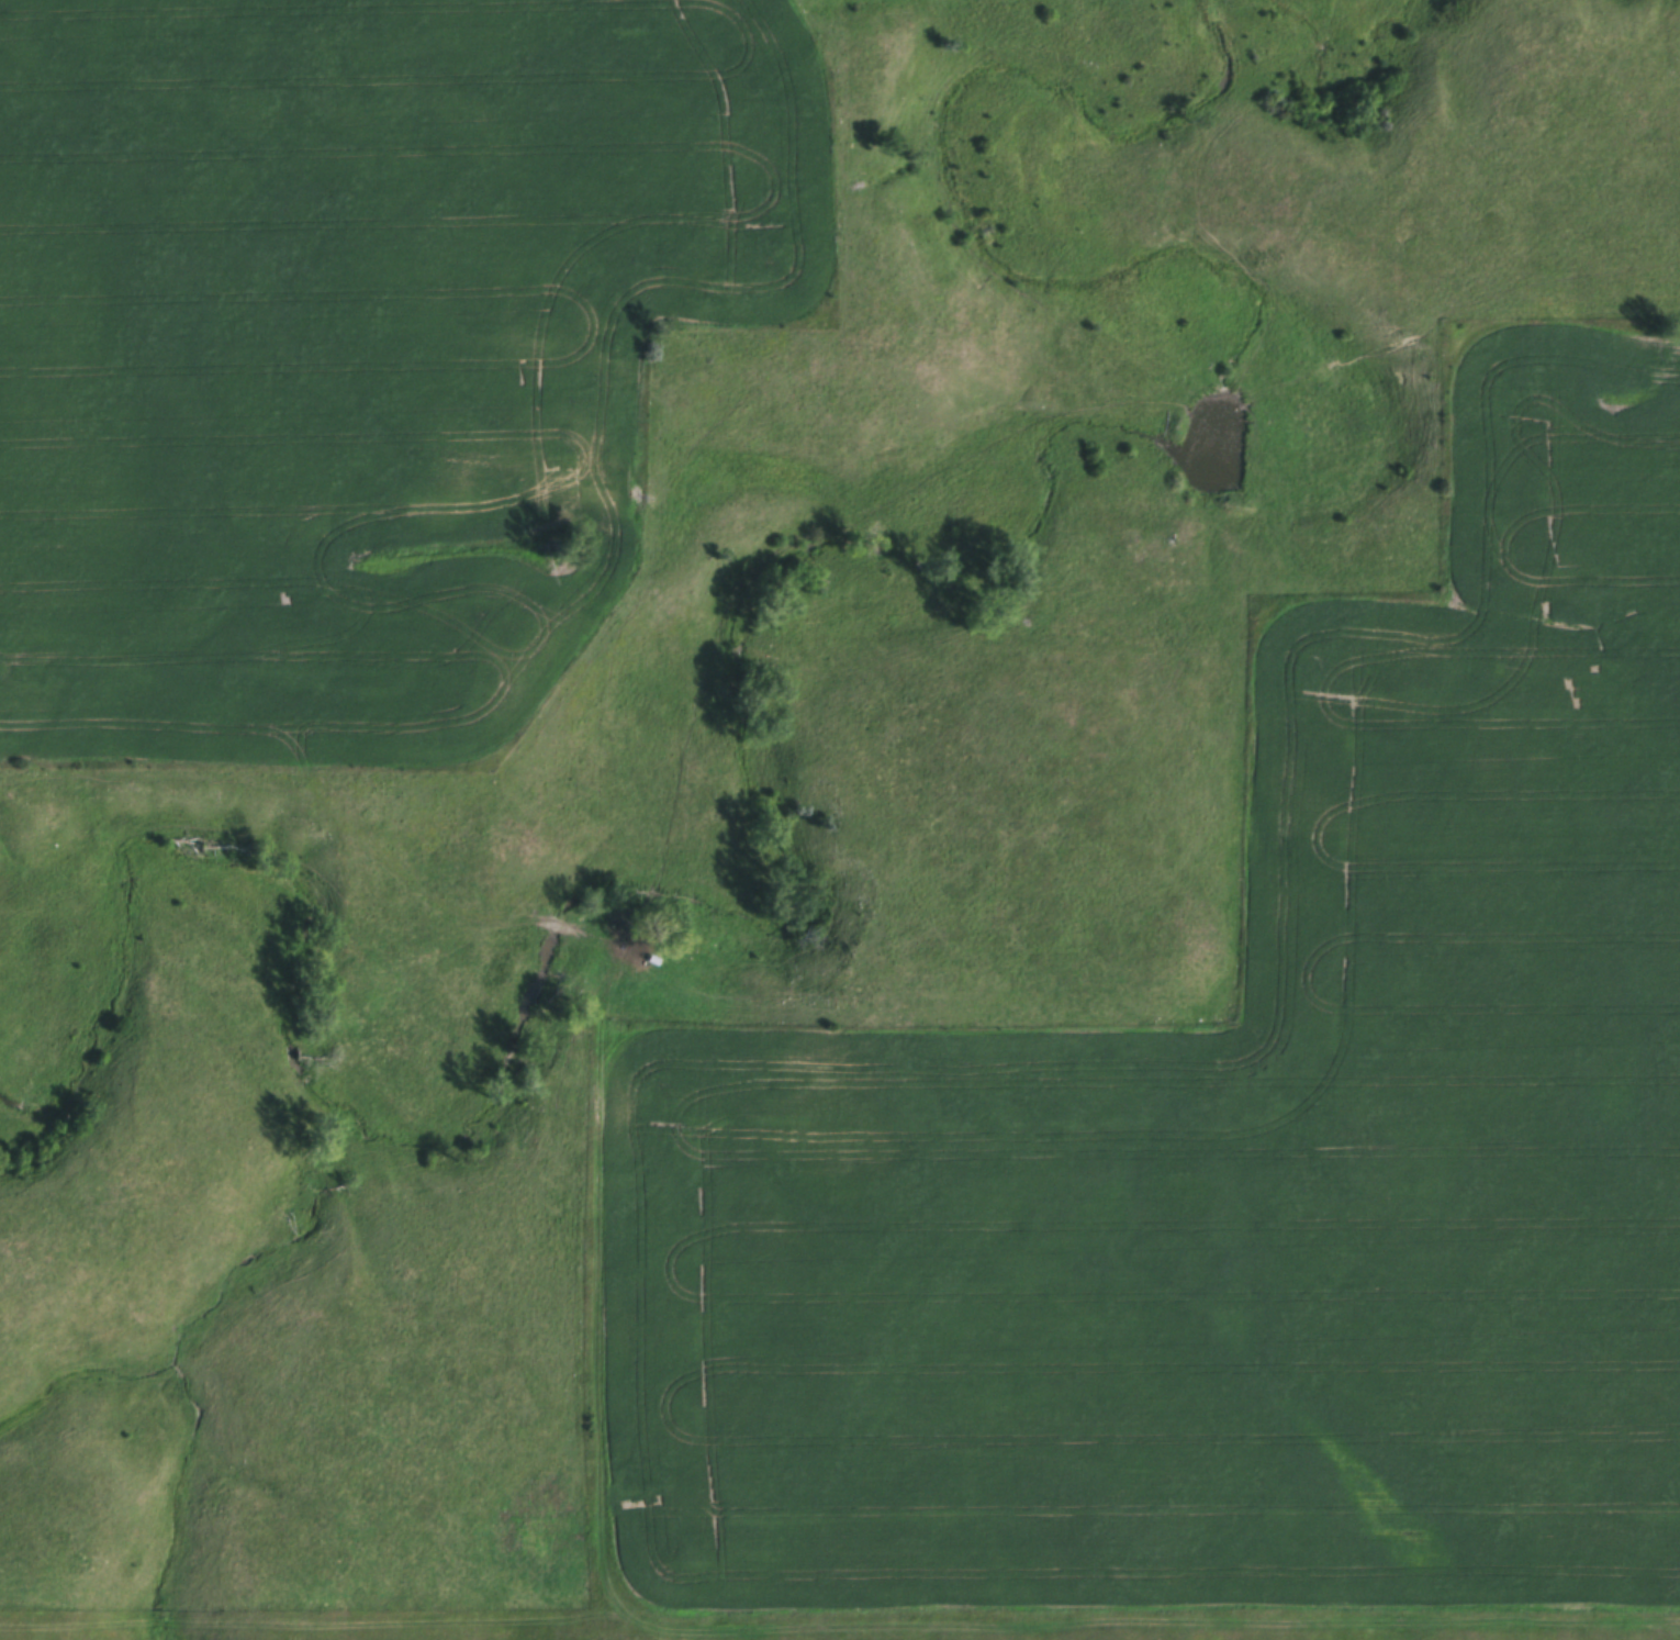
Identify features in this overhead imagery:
river: (1173, 435)

